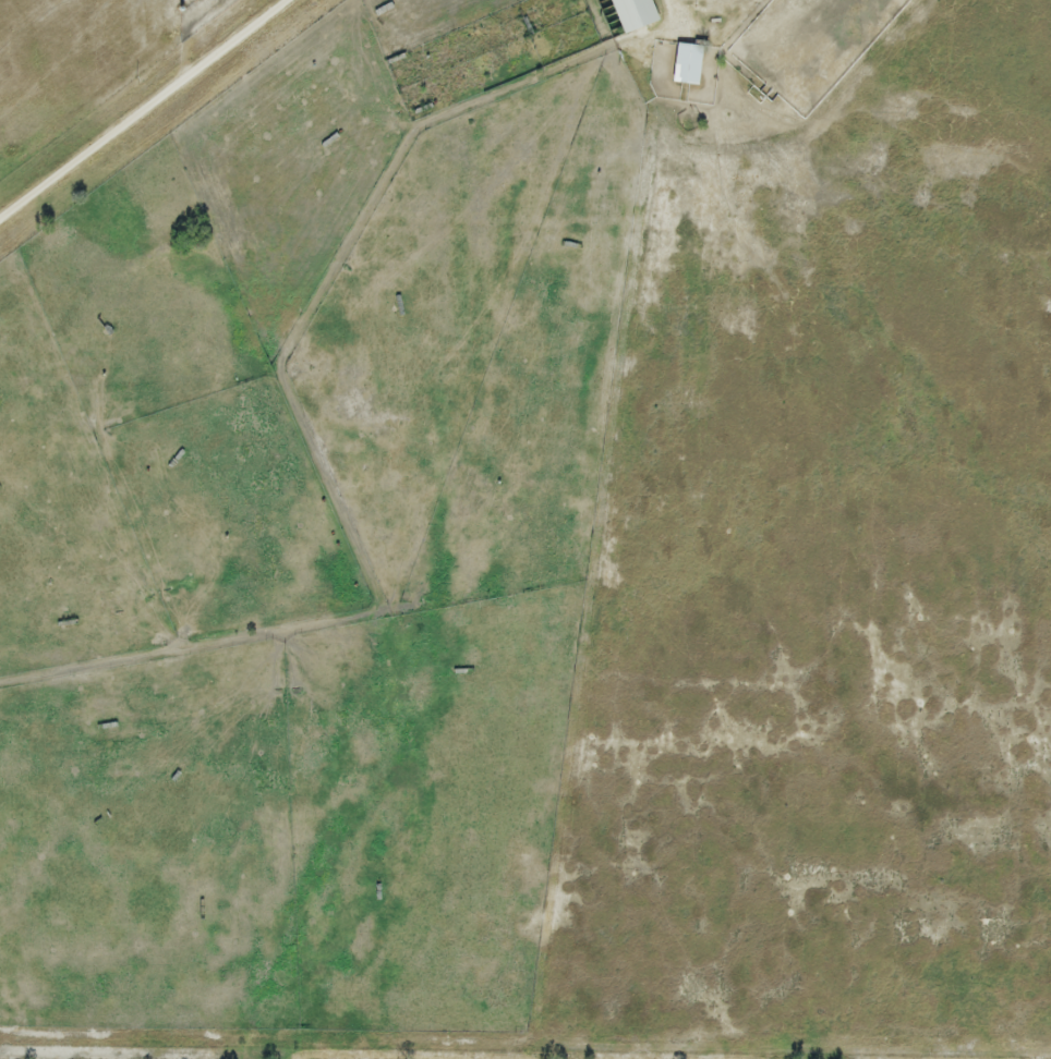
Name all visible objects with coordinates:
building: (630, 14)
building: (684, 65)
road: (152, 112)

